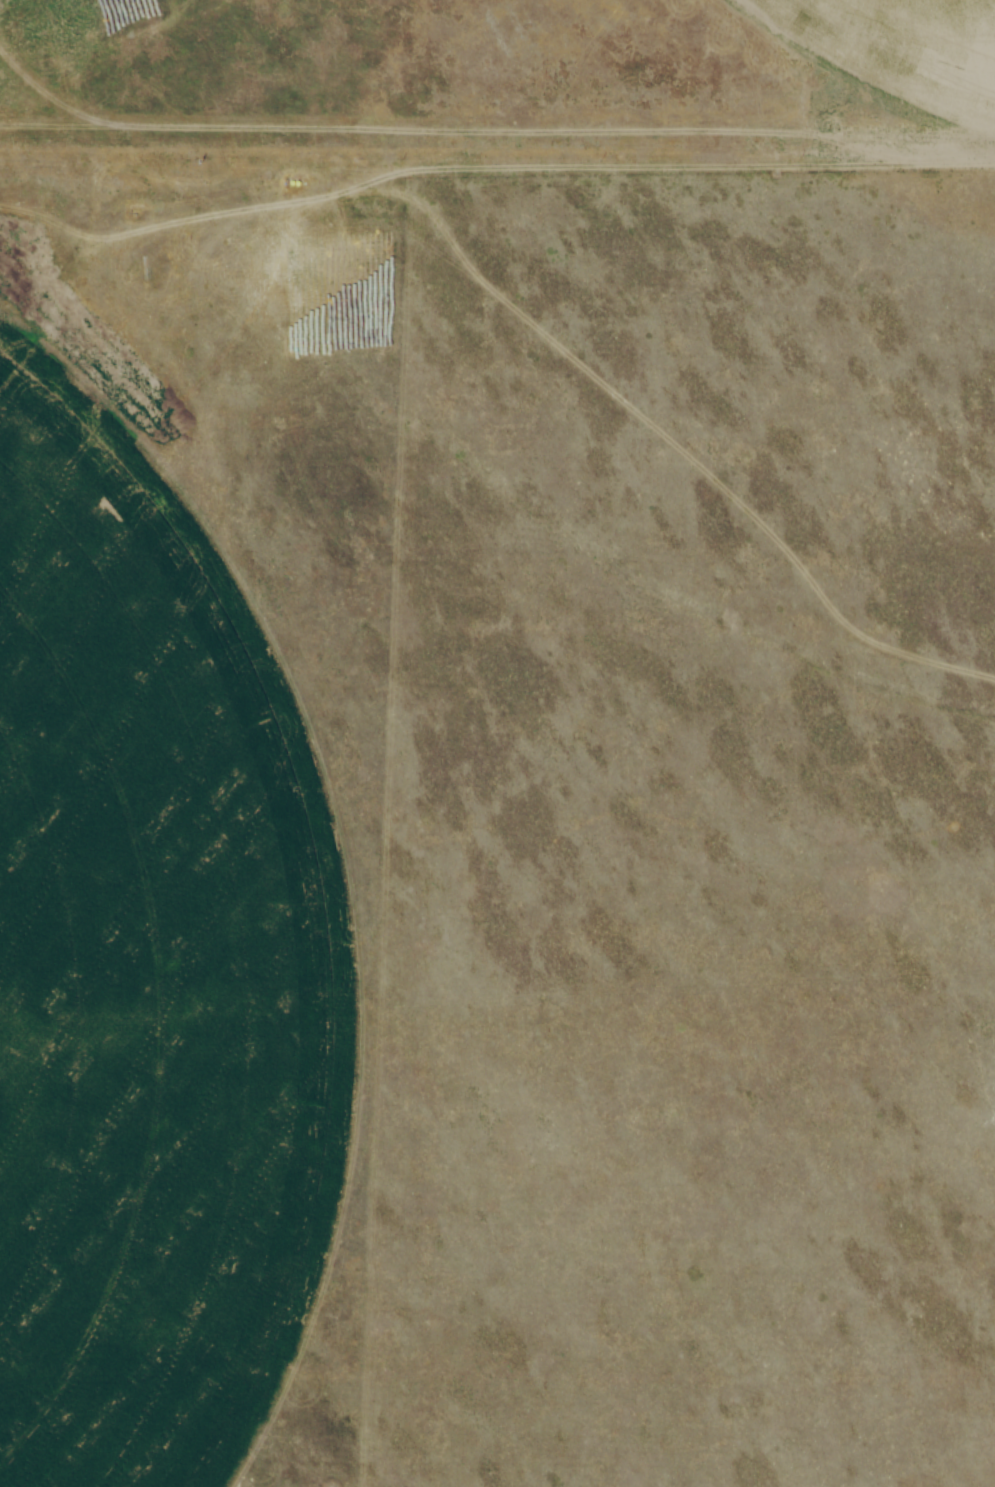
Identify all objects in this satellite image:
crop: (907, 40)
crop: (152, 975)

